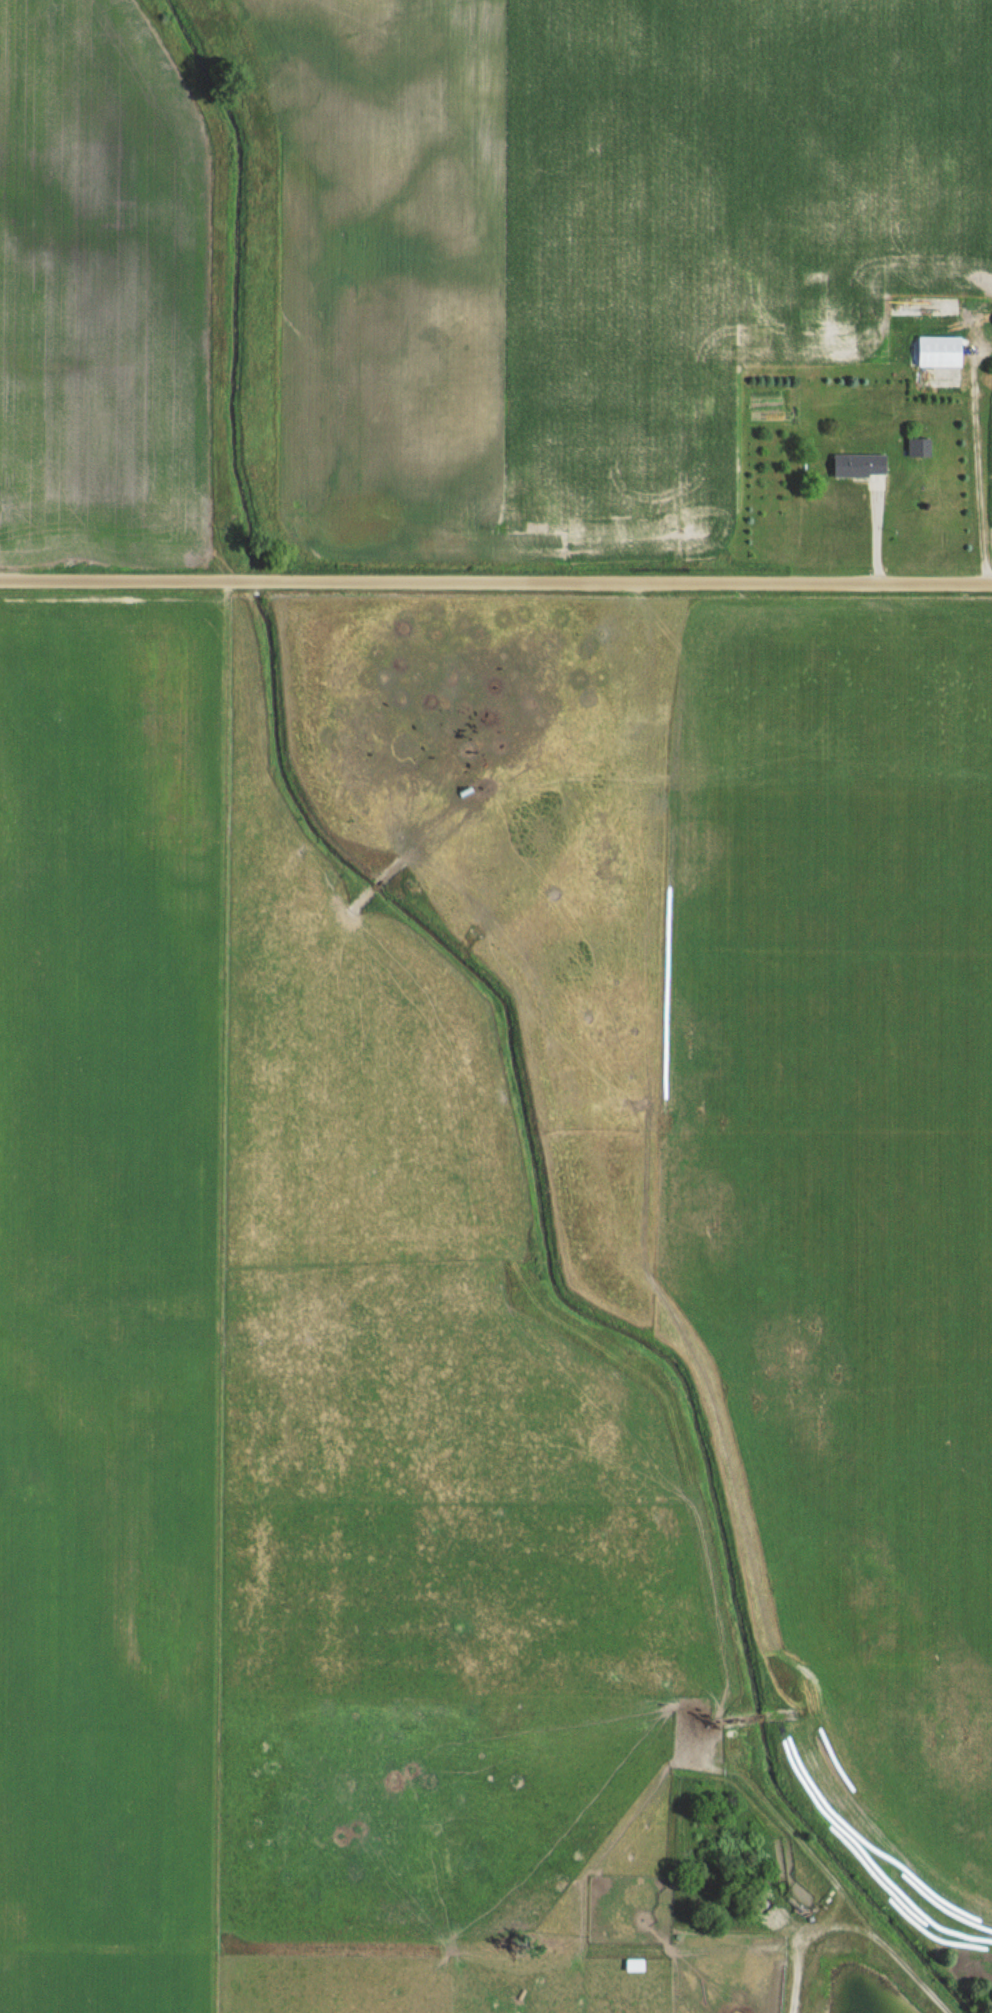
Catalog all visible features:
building: (935, 350)
building: (917, 447)
building: (860, 465)
road: (976, 471)
road: (495, 582)
building: (636, 1965)

